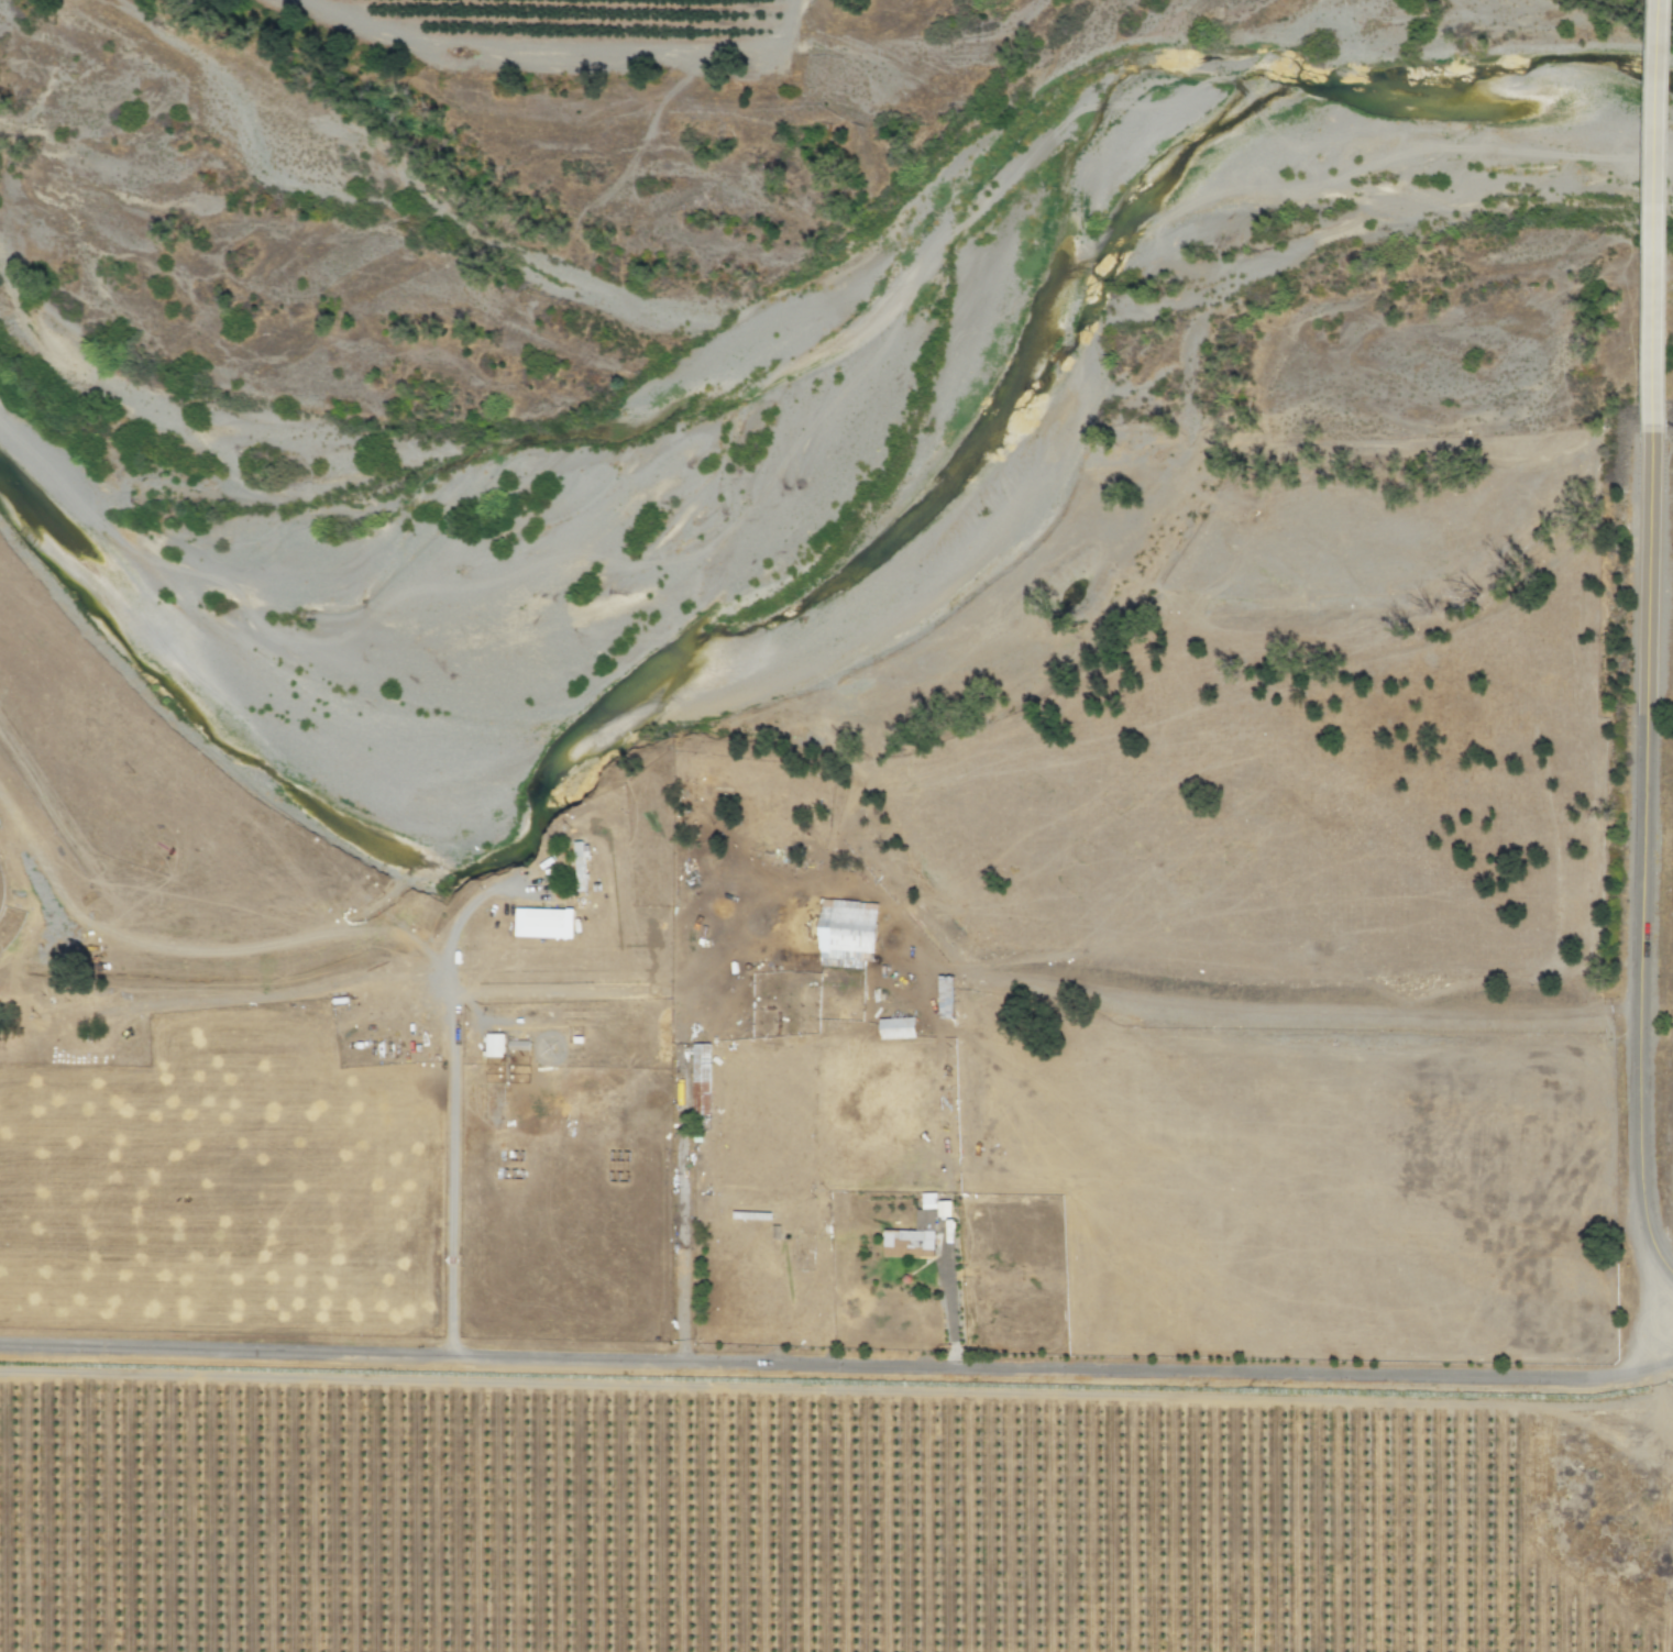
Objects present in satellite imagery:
road: (1653, 216)
river: (823, 582)
road: (1638, 863)
building: (577, 866)
building: (542, 917)
building: (844, 934)
building: (943, 996)
road: (1163, 1001)
building: (894, 1028)
building: (491, 1045)
building: (514, 1045)
building: (698, 1079)
road: (450, 1099)
building: (934, 1204)
building: (911, 1238)
road: (946, 1287)
road: (837, 1364)

